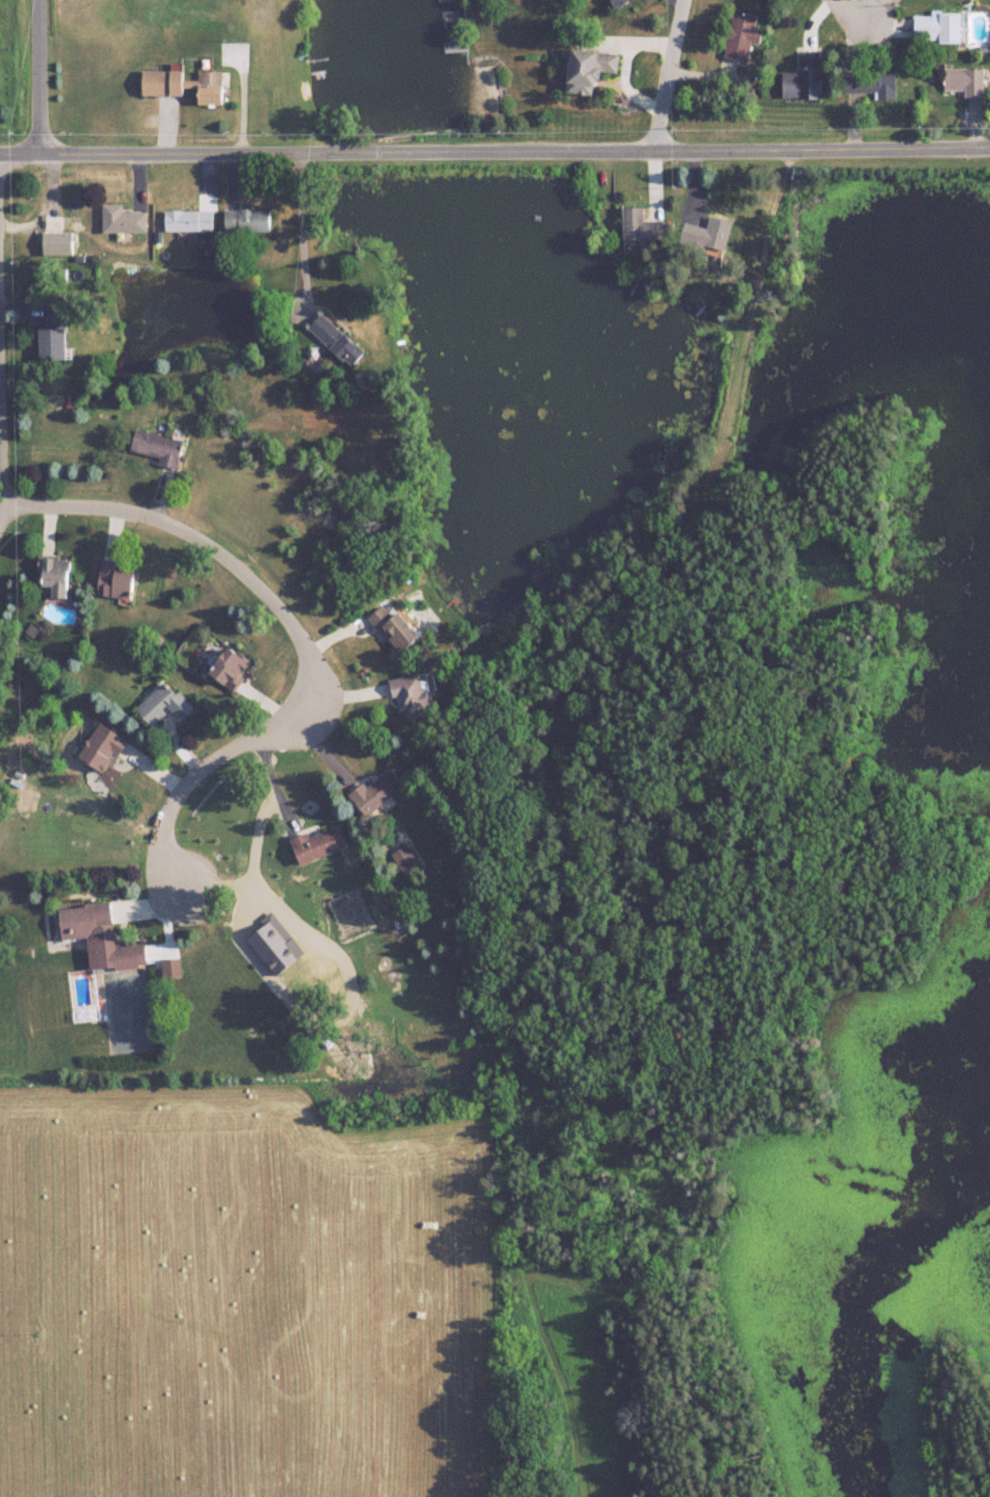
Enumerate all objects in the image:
building: (620, 3)
road: (854, 13)
building: (941, 28)
building: (741, 35)
building: (591, 70)
road: (666, 76)
building: (807, 77)
road: (38, 78)
building: (970, 82)
building: (875, 83)
building: (187, 85)
road: (821, 149)
road: (326, 154)
road: (653, 184)
road: (692, 184)
building: (247, 218)
building: (121, 219)
building: (188, 220)
building: (640, 226)
building: (709, 233)
road: (300, 234)
building: (57, 241)
building: (53, 332)
building: (337, 338)
building: (157, 447)
road: (0, 478)
building: (346, 521)
building: (57, 574)
building: (118, 579)
building: (402, 627)
road: (296, 632)
building: (233, 668)
building: (415, 693)
building: (166, 703)
building: (104, 746)
building: (380, 791)
building: (321, 843)
building: (406, 860)
building: (103, 936)

